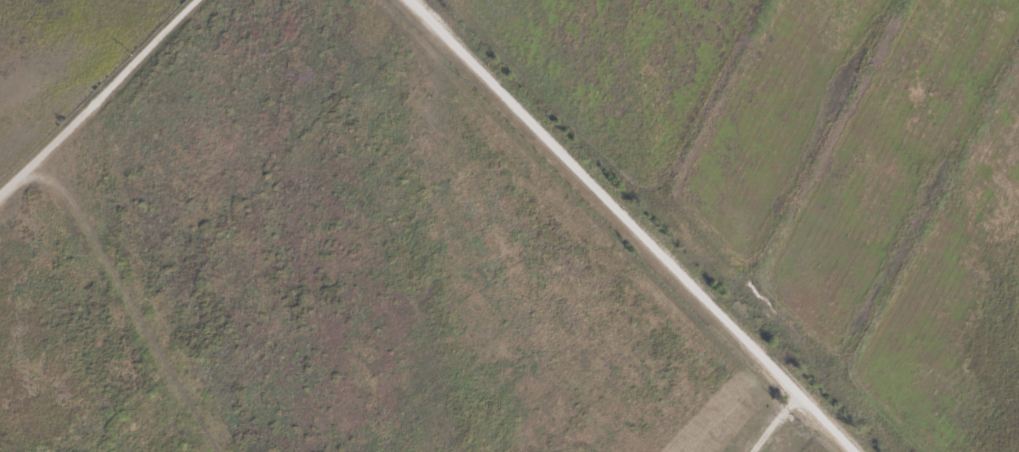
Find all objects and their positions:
road: (100, 99)
road: (654, 223)
road: (776, 407)

